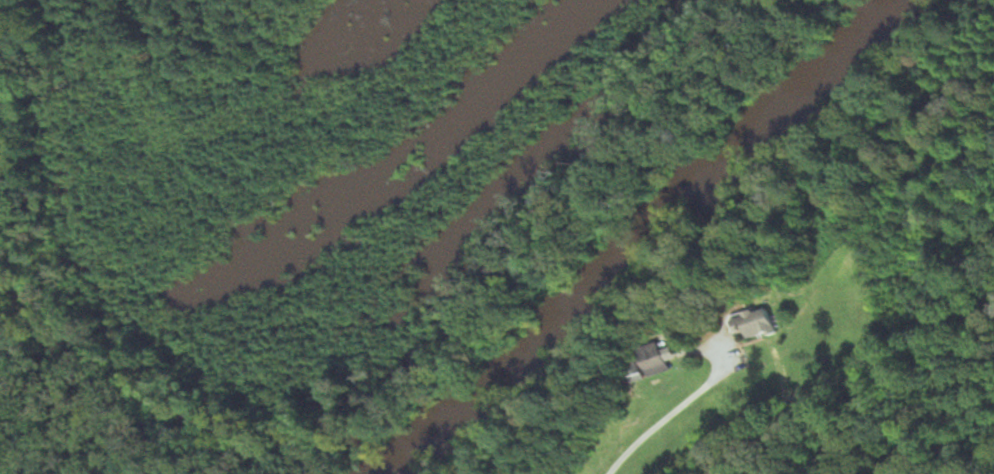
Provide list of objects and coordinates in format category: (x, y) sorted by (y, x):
river: (637, 239)
building: (757, 323)
building: (660, 359)
road: (671, 415)

